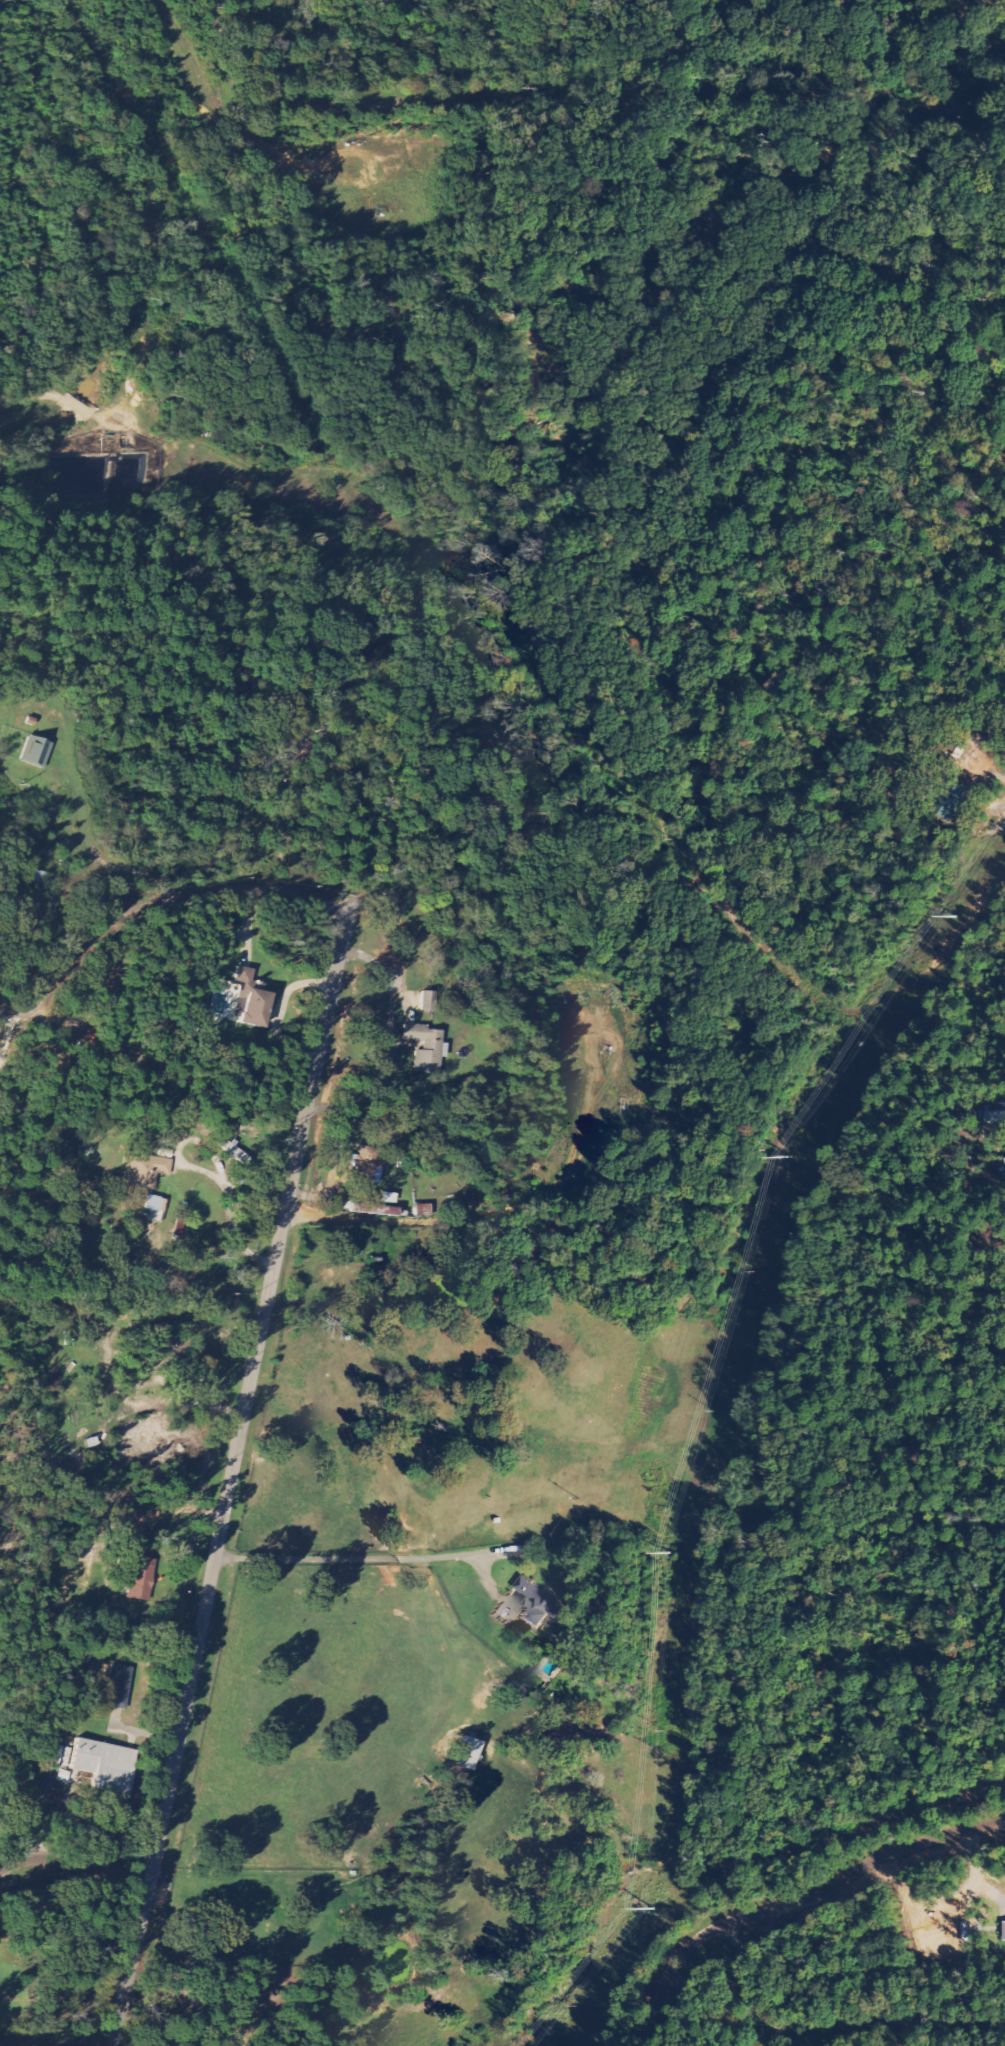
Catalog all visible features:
building: (37, 753)
building: (954, 798)
road: (154, 902)
power tower: (958, 916)
building: (244, 976)
building: (429, 1002)
building: (254, 1008)
building: (426, 1048)
building: (997, 1117)
building: (235, 1152)
power tower: (797, 1163)
building: (368, 1166)
building: (147, 1170)
building: (364, 1206)
building: (155, 1207)
road: (230, 1478)
power tower: (675, 1552)
building: (138, 1577)
building: (539, 1604)
building: (118, 1687)
building: (469, 1754)
building: (105, 1766)
road: (74, 1864)
road: (790, 1905)
power tower: (654, 1909)
building: (1002, 1931)
road: (732, 1990)

